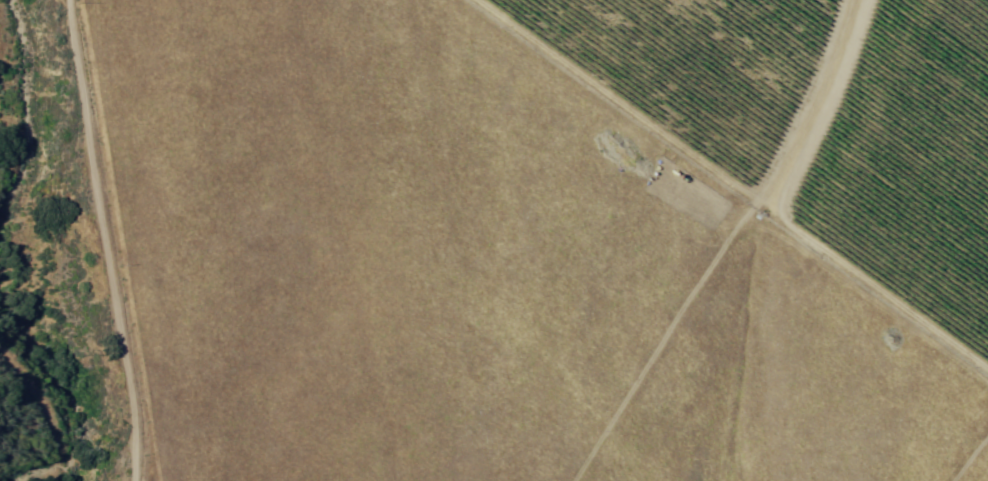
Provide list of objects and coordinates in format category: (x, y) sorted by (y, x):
road: (89, 243)

